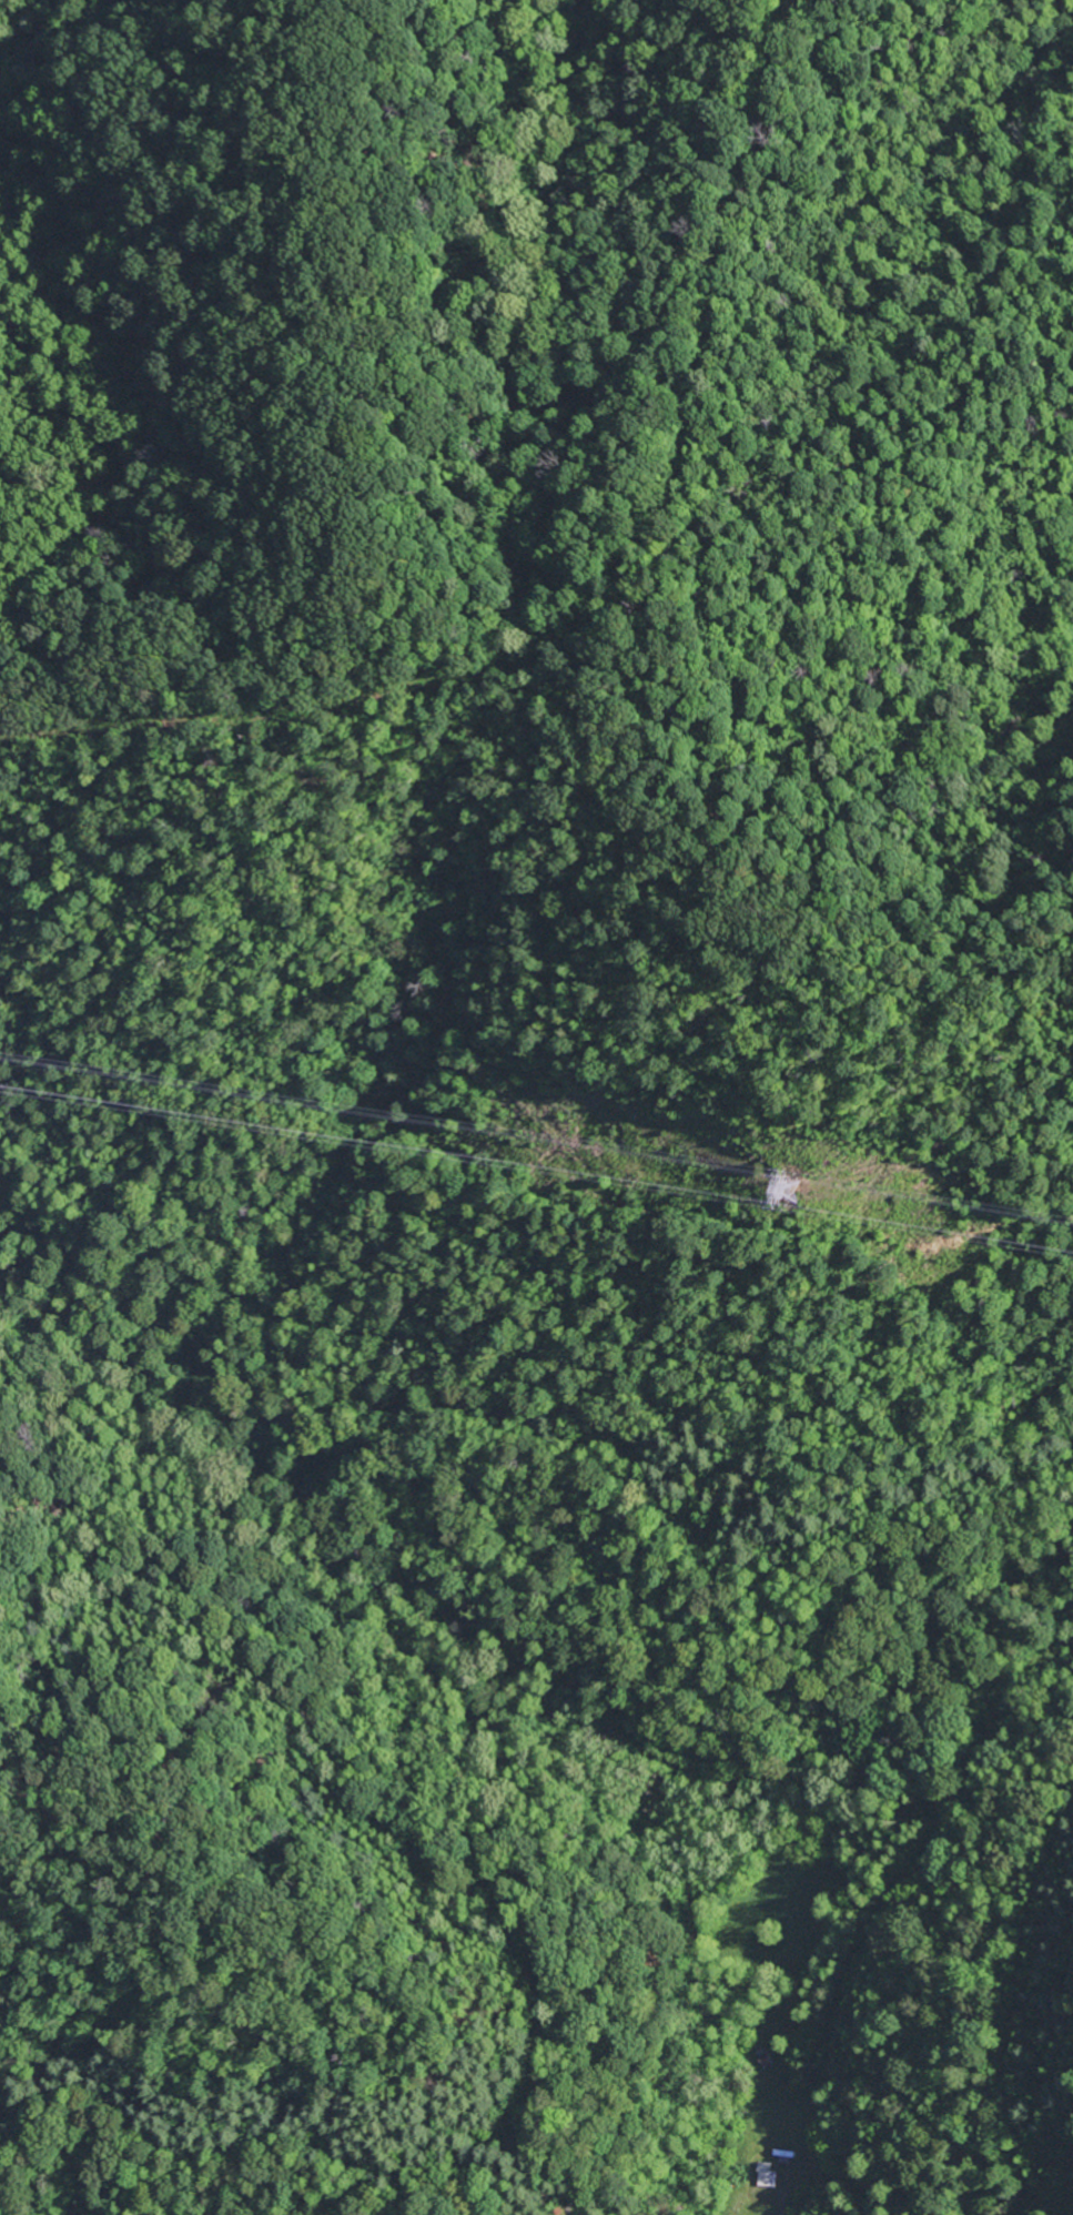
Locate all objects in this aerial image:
power tower: (783, 1191)
road: (856, 2186)

